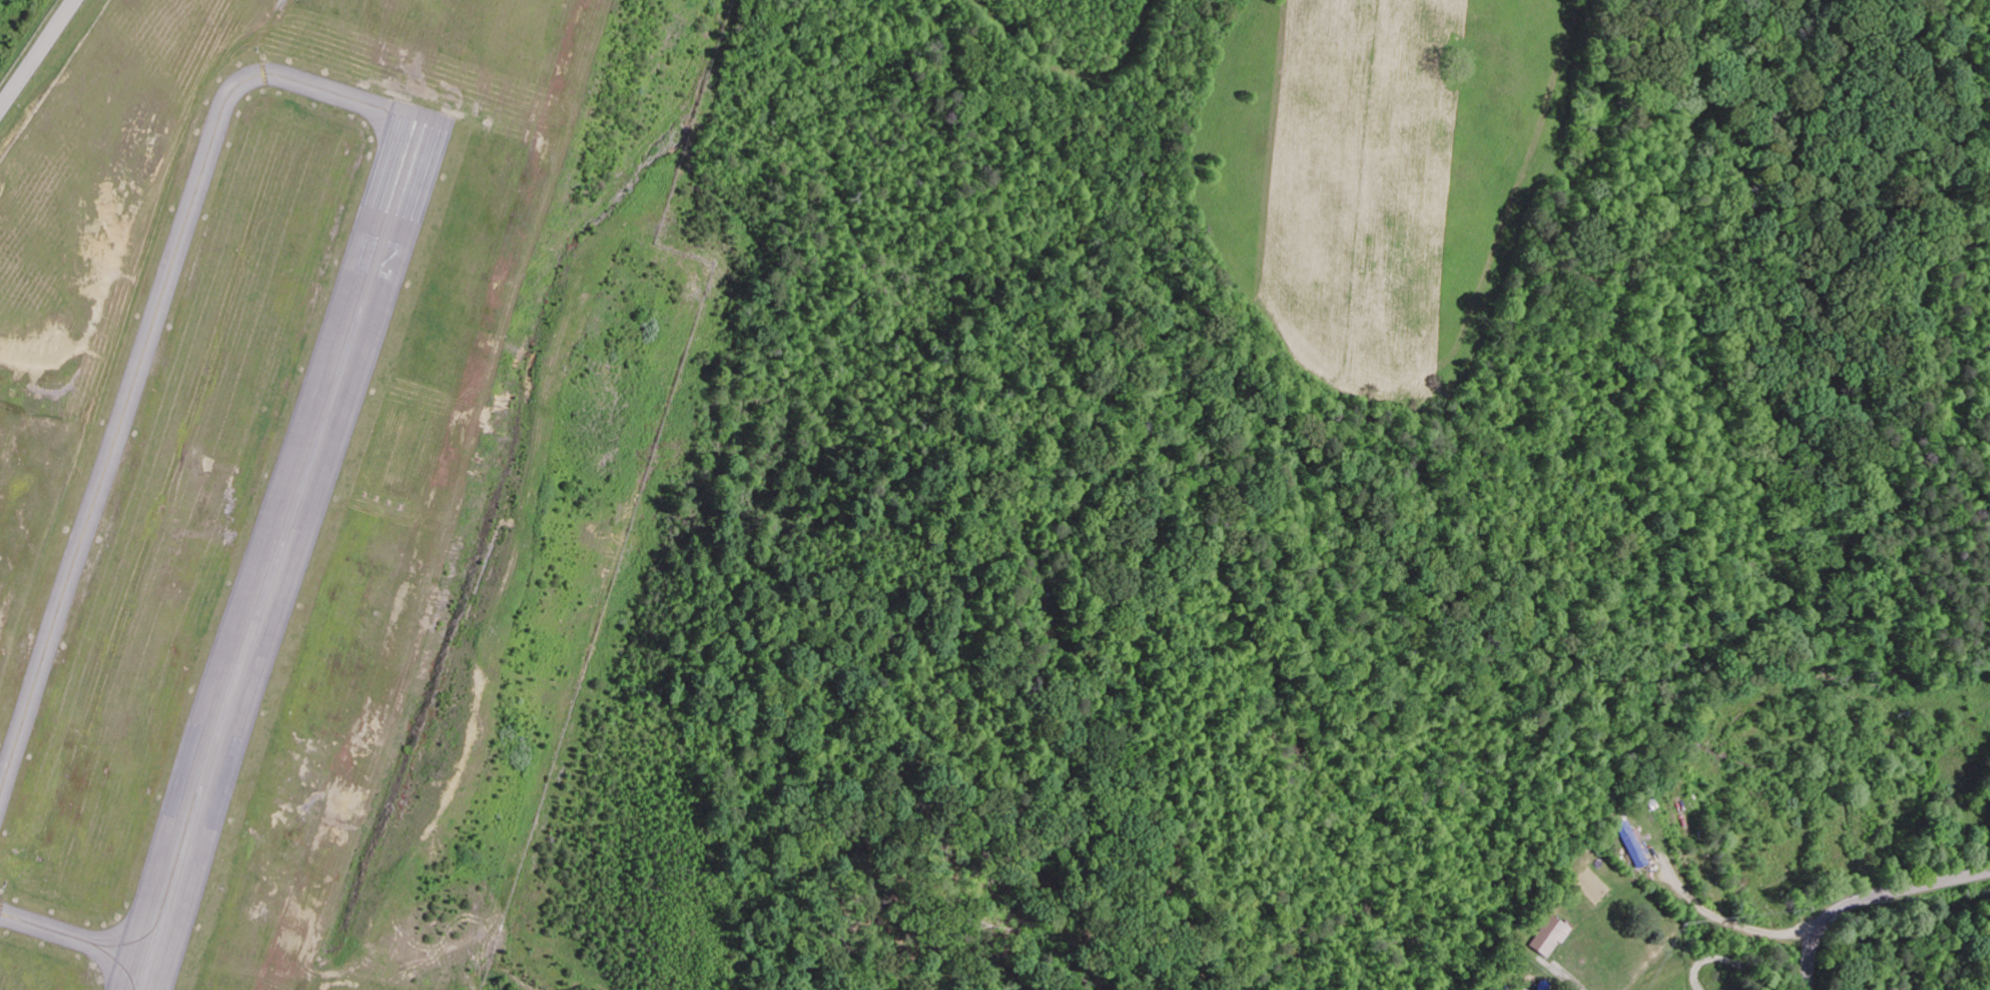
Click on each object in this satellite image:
road: (37, 51)
airport taxiway: (142, 346)
airport: (338, 484)
airport runway: (278, 556)
building: (1635, 846)
road: (1927, 881)
road: (1720, 927)
road: (1817, 930)
airport taxiway: (74, 938)
building: (1552, 938)

